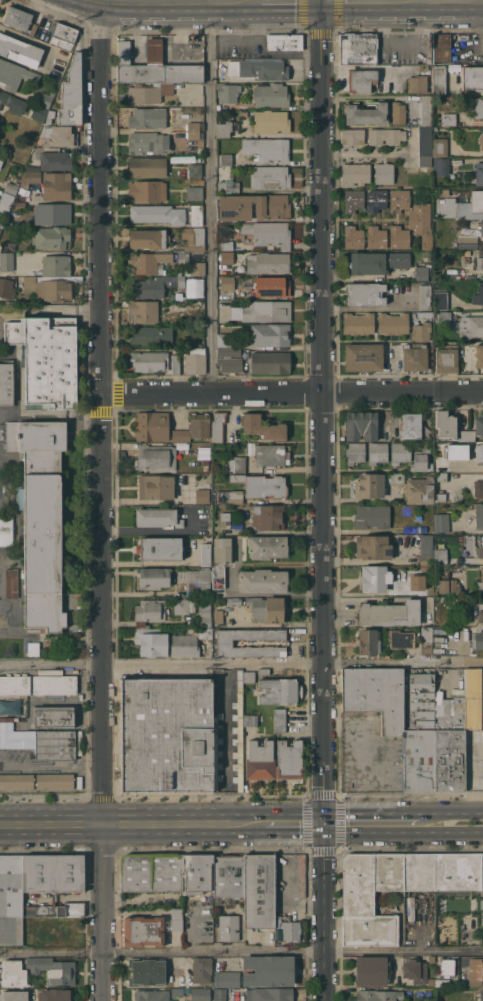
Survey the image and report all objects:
road: (359, 1)
road: (439, 1)
road: (175, 2)
road: (287, 2)
traffic signals: (323, 2)
building: (17, 17)
building: (64, 35)
building: (284, 42)
building: (441, 48)
building: (358, 49)
building: (20, 51)
building: (159, 68)
building: (259, 69)
building: (399, 71)
building: (15, 75)
building: (472, 77)
building: (438, 79)
building: (360, 80)
building: (417, 84)
building: (228, 92)
building: (71, 93)
building: (149, 93)
building: (271, 95)
building: (45, 98)
building: (13, 102)
building: (478, 108)
building: (426, 110)
building: (39, 113)
building: (243, 113)
building: (365, 113)
building: (398, 113)
building: (147, 117)
building: (448, 119)
building: (271, 121)
building: (195, 126)
building: (224, 129)
building: (194, 134)
building: (58, 136)
building: (352, 136)
building: (385, 136)
building: (425, 140)
building: (147, 142)
building: (481, 142)
building: (440, 147)
building: (267, 149)
building: (5, 155)
building: (226, 159)
building: (425, 160)
building: (55, 161)
building: (1, 163)
building: (147, 166)
building: (441, 166)
building: (32, 168)
building: (195, 170)
building: (355, 173)
building: (384, 173)
building: (479, 173)
building: (270, 177)
building: (30, 178)
building: (56, 186)
building: (221, 186)
building: (232, 186)
building: (11, 187)
building: (147, 191)
building: (443, 191)
building: (195, 193)
road: (208, 198)
building: (353, 200)
building: (375, 200)
building: (398, 200)
building: (6, 201)
building: (476, 201)
building: (19, 206)
building: (272, 209)
building: (52, 213)
building: (157, 214)
building: (196, 215)
building: (421, 223)
building: (0, 227)
building: (480, 228)
building: (269, 233)
building: (51, 237)
building: (354, 237)
building: (376, 237)
building: (399, 237)
building: (147, 238)
building: (193, 238)
building: (467, 241)
building: (227, 245)
building: (7, 246)
building: (183, 258)
building: (479, 260)
building: (6, 261)
building: (148, 262)
building: (226, 262)
building: (267, 262)
building: (376, 262)
building: (55, 265)
building: (198, 268)
building: (422, 270)
building: (179, 272)
building: (227, 282)
building: (154, 286)
building: (270, 286)
building: (6, 288)
building: (45, 288)
building: (365, 293)
building: (478, 295)
building: (425, 297)
building: (440, 300)
building: (143, 311)
building: (267, 311)
building: (426, 314)
building: (444, 318)
building: (358, 323)
building: (393, 323)
building: (475, 326)
building: (421, 331)
building: (150, 334)
building: (271, 335)
building: (224, 339)
building: (197, 344)
building: (229, 351)
building: (479, 355)
building: (363, 356)
building: (414, 357)
building: (446, 358)
building: (47, 359)
building: (195, 361)
building: (155, 362)
building: (270, 362)
building: (230, 365)
building: (6, 382)
road: (292, 394)
road: (323, 412)
building: (445, 424)
building: (361, 425)
building: (410, 425)
building: (479, 425)
building: (153, 426)
building: (218, 426)
building: (263, 427)
building: (193, 428)
building: (465, 435)
building: (377, 452)
building: (400, 452)
building: (478, 452)
building: (354, 453)
building: (205, 455)
building: (270, 455)
building: (156, 457)
building: (421, 460)
building: (206, 462)
building: (443, 464)
building: (237, 465)
building: (441, 476)
building: (397, 478)
building: (261, 485)
building: (369, 485)
building: (155, 487)
building: (478, 488)
building: (419, 490)
building: (202, 495)
building: (230, 496)
building: (440, 497)
road: (102, 500)
road: (370, 500)
building: (372, 516)
building: (479, 516)
building: (157, 517)
building: (225, 517)
building: (268, 517)
building: (41, 518)
building: (441, 522)
building: (6, 530)
road: (155, 530)
building: (267, 546)
building: (480, 546)
building: (374, 547)
building: (159, 548)
building: (427, 550)
building: (222, 551)
building: (440, 553)
building: (206, 555)
road: (279, 562)
building: (218, 576)
building: (152, 578)
building: (375, 579)
building: (199, 580)
building: (263, 581)
building: (11, 582)
building: (417, 582)
building: (480, 583)
building: (447, 584)
road: (361, 598)
building: (234, 601)
building: (181, 606)
building: (266, 609)
building: (148, 611)
building: (480, 612)
building: (390, 613)
building: (204, 615)
building: (218, 616)
building: (400, 639)
building: (426, 640)
building: (478, 640)
building: (151, 641)
building: (369, 641)
building: (188, 642)
building: (225, 643)
building: (33, 648)
road: (213, 662)
road: (403, 662)
road: (51, 663)
building: (263, 671)
building: (249, 676)
building: (53, 682)
building: (15, 684)
building: (279, 691)
building: (376, 696)
building: (473, 700)
building: (54, 716)
building: (250, 720)
building: (279, 720)
building: (238, 732)
building: (166, 734)
building: (420, 735)
road: (358, 737)
building: (39, 741)
road: (226, 743)
building: (450, 748)
building: (216, 750)
building: (274, 760)
building: (54, 780)
building: (16, 781)
road: (452, 811)
road: (389, 812)
road: (341, 818)
road: (295, 824)
traffic signals: (326, 824)
road: (132, 825)
road: (403, 832)
building: (419, 871)
building: (458, 871)
building: (152, 872)
building: (197, 873)
building: (228, 876)
building: (53, 882)
building: (482, 883)
building: (259, 891)
building: (370, 897)
building: (10, 899)
road: (326, 912)
building: (177, 919)
building: (229, 928)
building: (55, 930)
building: (290, 930)
building: (143, 931)
road: (241, 950)
building: (447, 967)
building: (53, 969)
building: (202, 970)
building: (268, 970)
building: (146, 971)
building: (372, 971)
building: (415, 971)
building: (475, 971)
building: (13, 973)
building: (227, 979)
building: (442, 982)
building: (177, 991)
building: (56, 994)
building: (200, 994)
building: (269, 994)
building: (480, 994)
building: (14, 995)
building: (152, 995)
building: (378, 995)
building: (220, 997)

